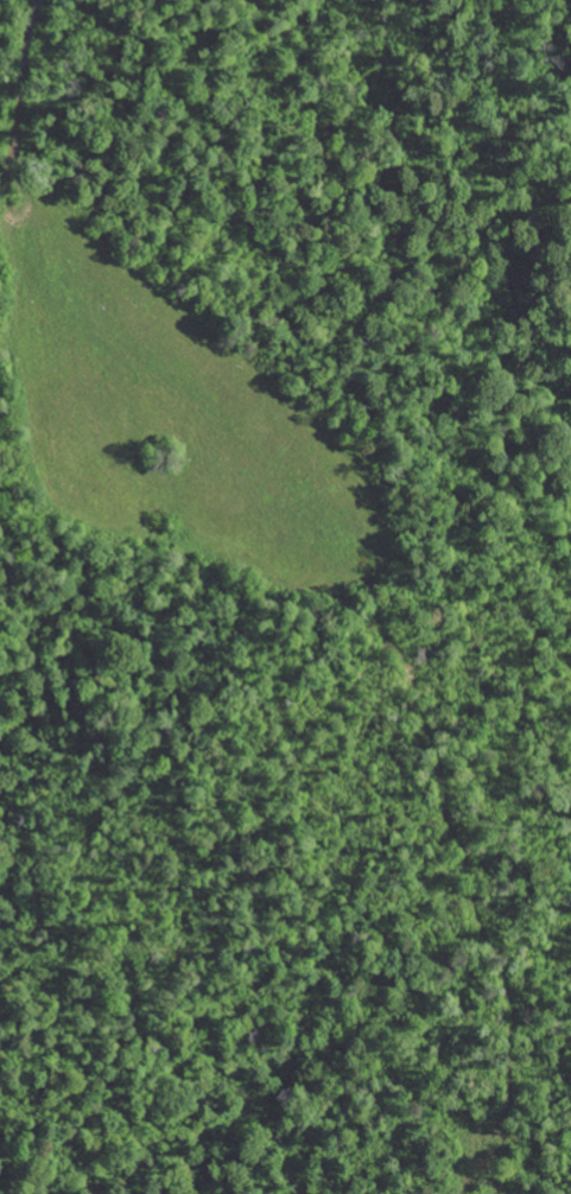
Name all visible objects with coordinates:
road: (51, 872)

